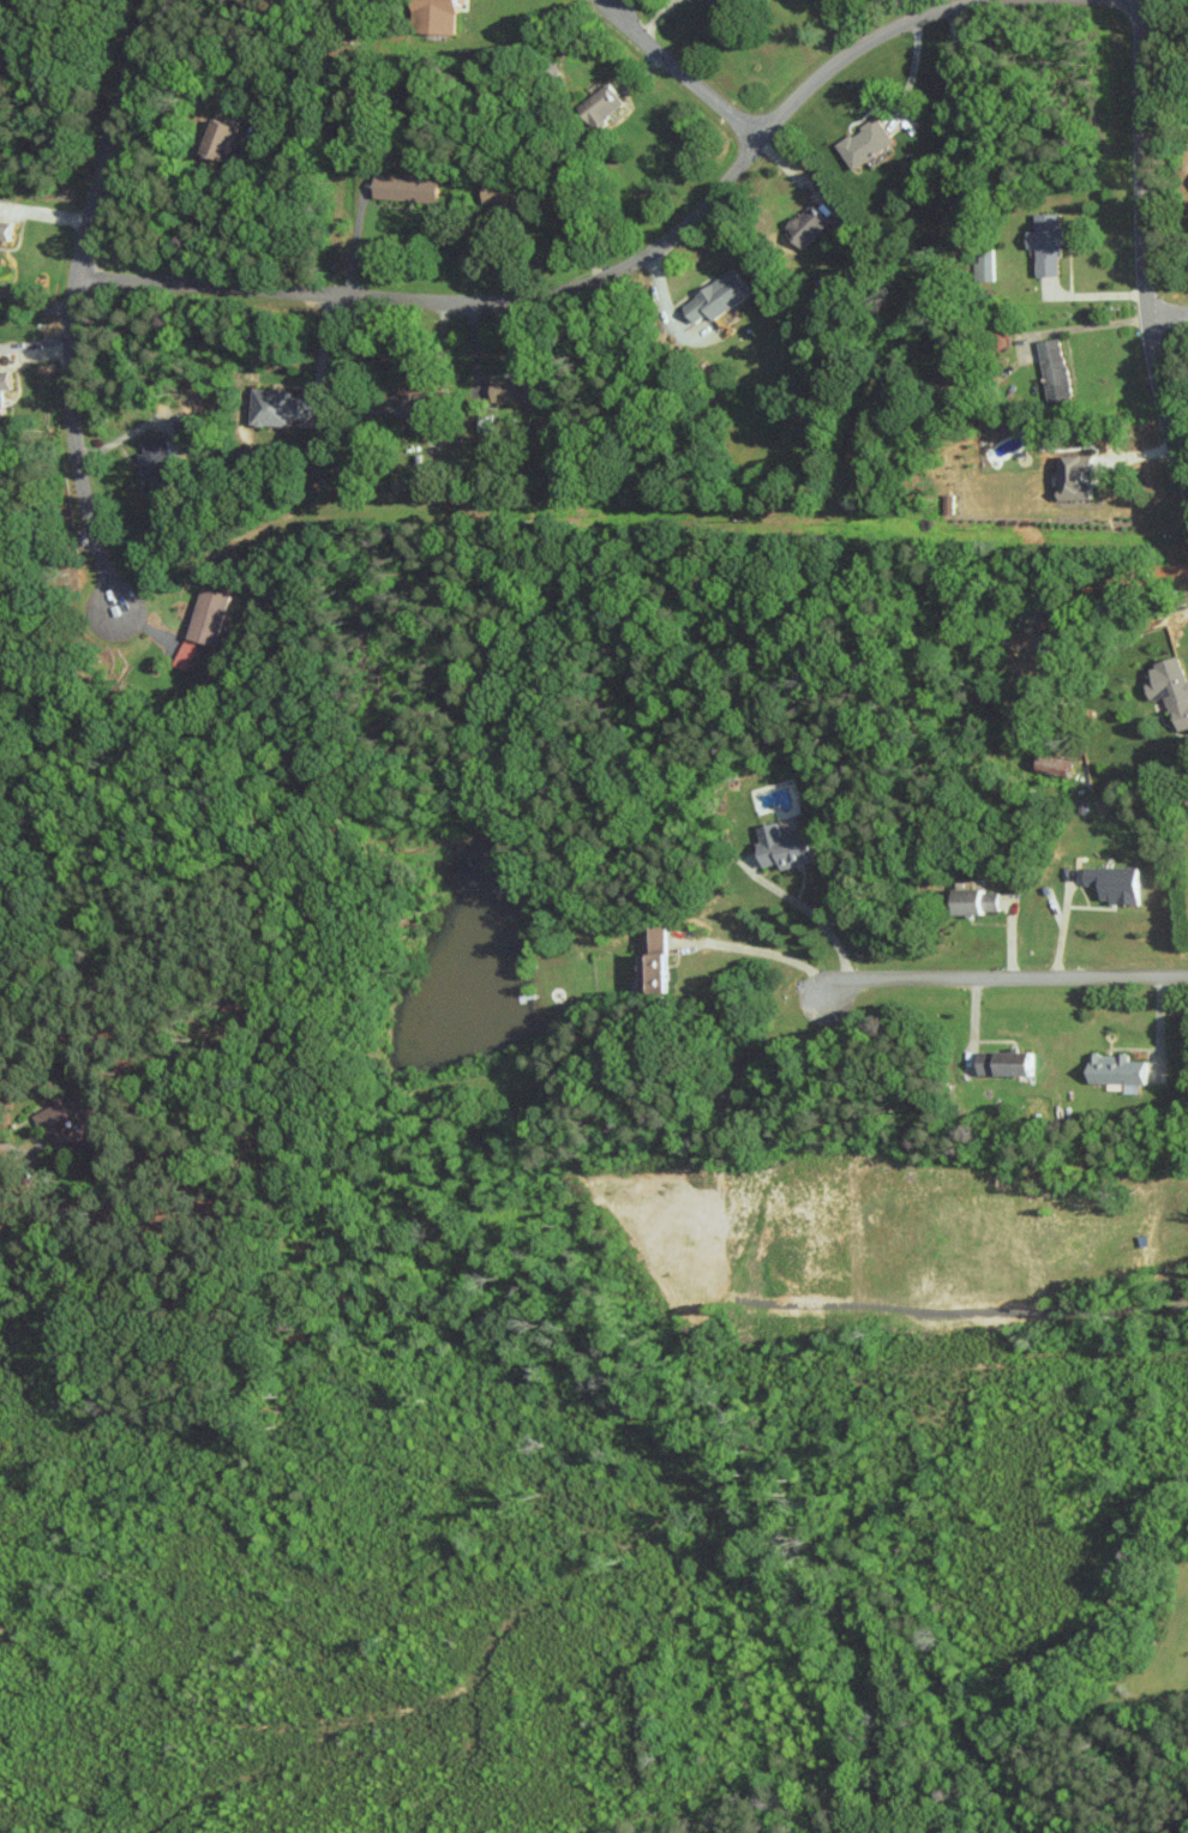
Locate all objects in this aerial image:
building: (719, 1)
road: (966, 2)
building: (433, 16)
road: (76, 29)
building: (8, 55)
road: (910, 74)
road: (683, 76)
building: (599, 106)
building: (220, 134)
building: (863, 143)
building: (403, 187)
building: (502, 192)
building: (804, 226)
building: (5, 229)
road: (354, 239)
building: (1045, 244)
road: (1141, 248)
road: (599, 275)
road: (36, 298)
building: (714, 298)
road: (70, 317)
road: (1168, 317)
road: (1082, 325)
road: (324, 354)
road: (440, 365)
building: (1054, 373)
building: (509, 389)
building: (4, 390)
building: (275, 407)
building: (397, 407)
building: (485, 423)
building: (155, 467)
building: (1073, 476)
building: (406, 483)
building: (206, 617)
building: (1050, 641)
building: (184, 654)
building: (1170, 690)
building: (781, 845)
building: (1112, 882)
building: (974, 900)
road: (803, 909)
road: (1060, 922)
road: (756, 949)
building: (653, 957)
road: (1001, 979)
building: (1003, 1062)
building: (1116, 1070)
building: (70, 1123)

